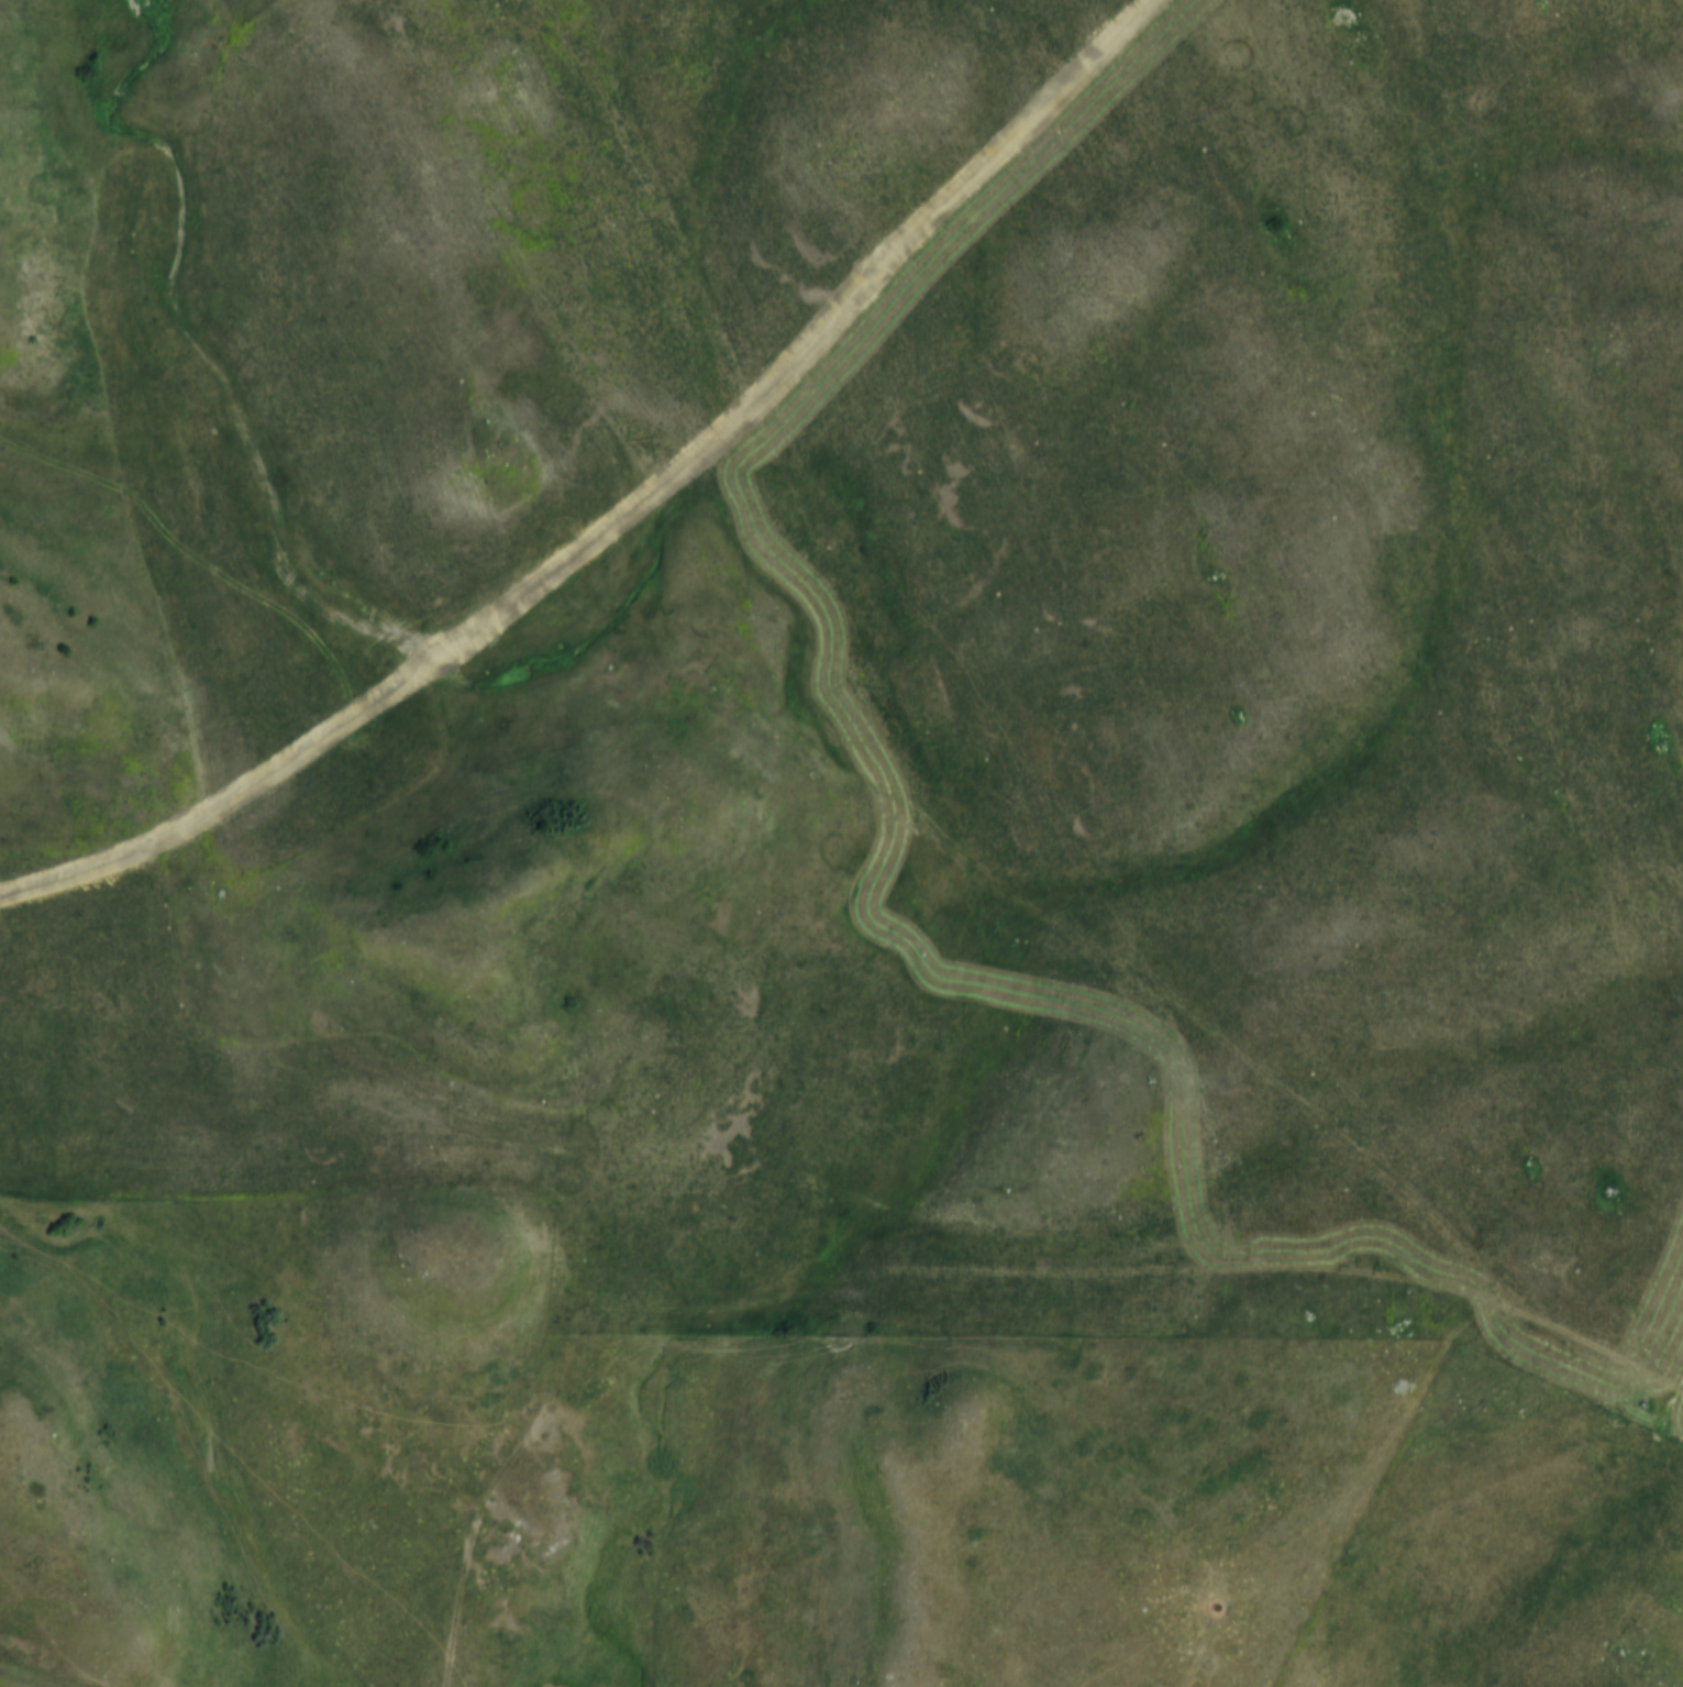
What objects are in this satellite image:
road: (942, 1315)

